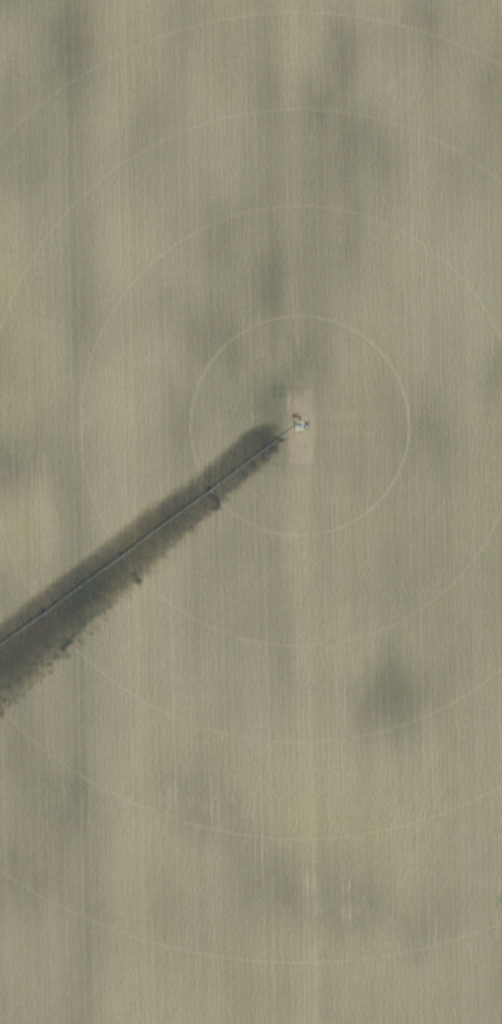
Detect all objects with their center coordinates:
crop: (251, 512)

